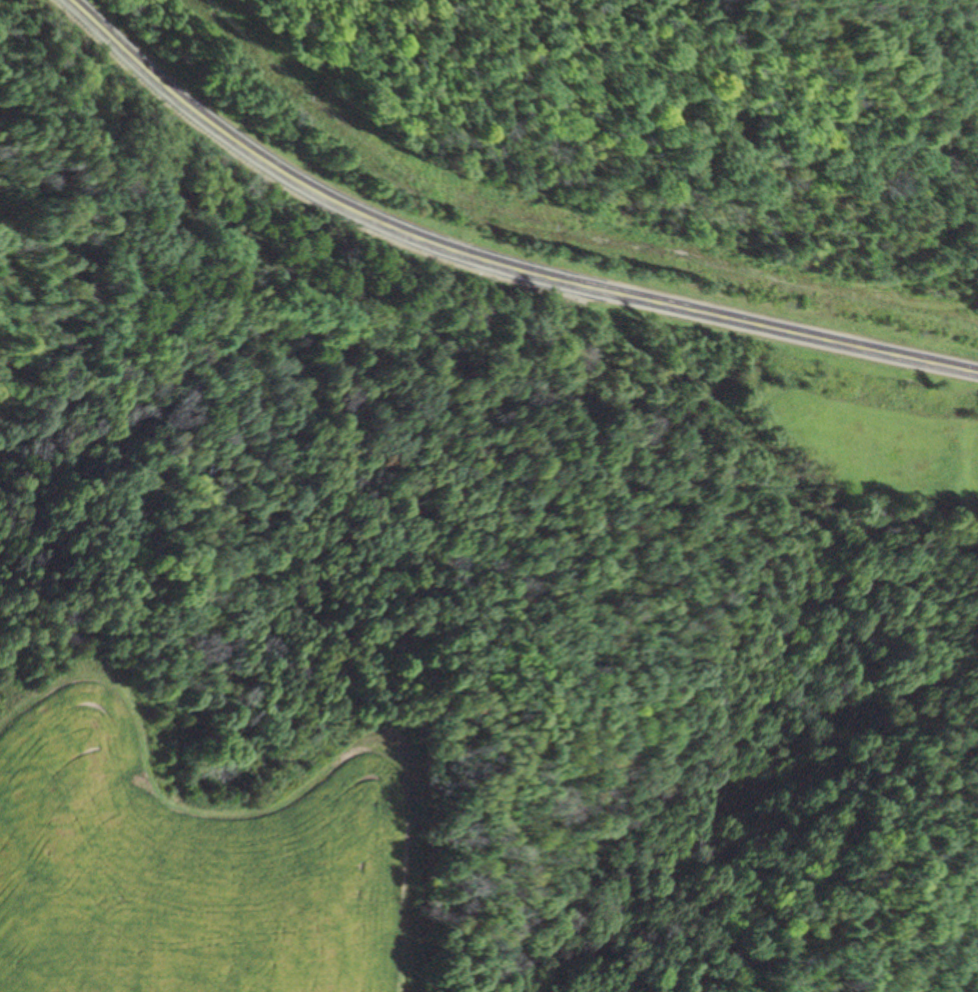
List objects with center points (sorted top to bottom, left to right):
road: (310, 189)
road: (789, 333)

